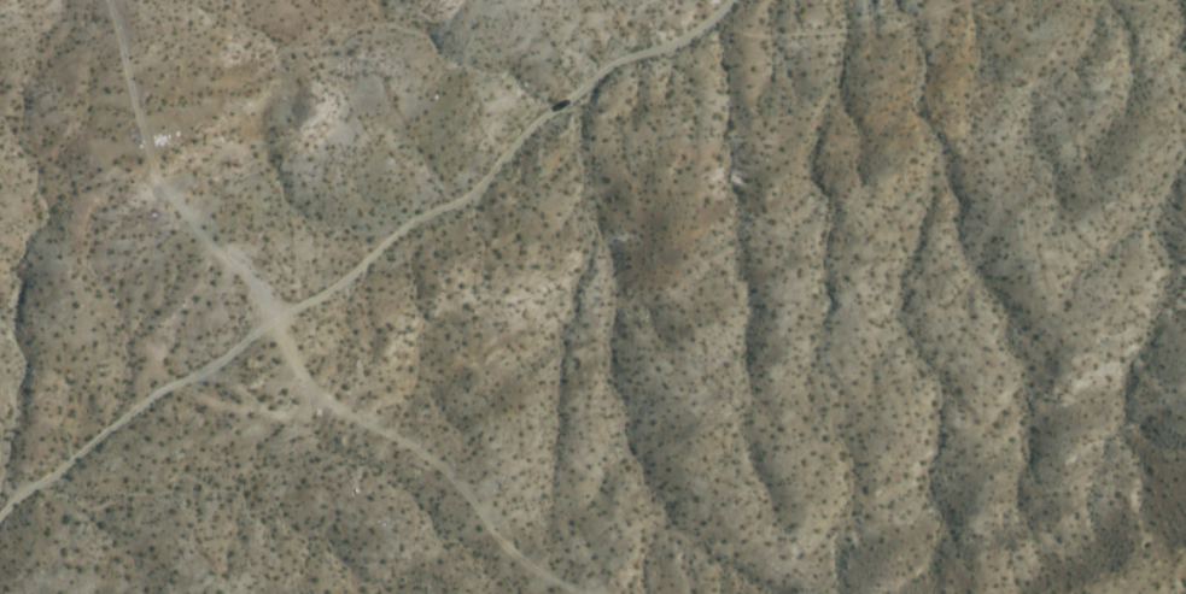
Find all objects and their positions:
road: (356, 271)

